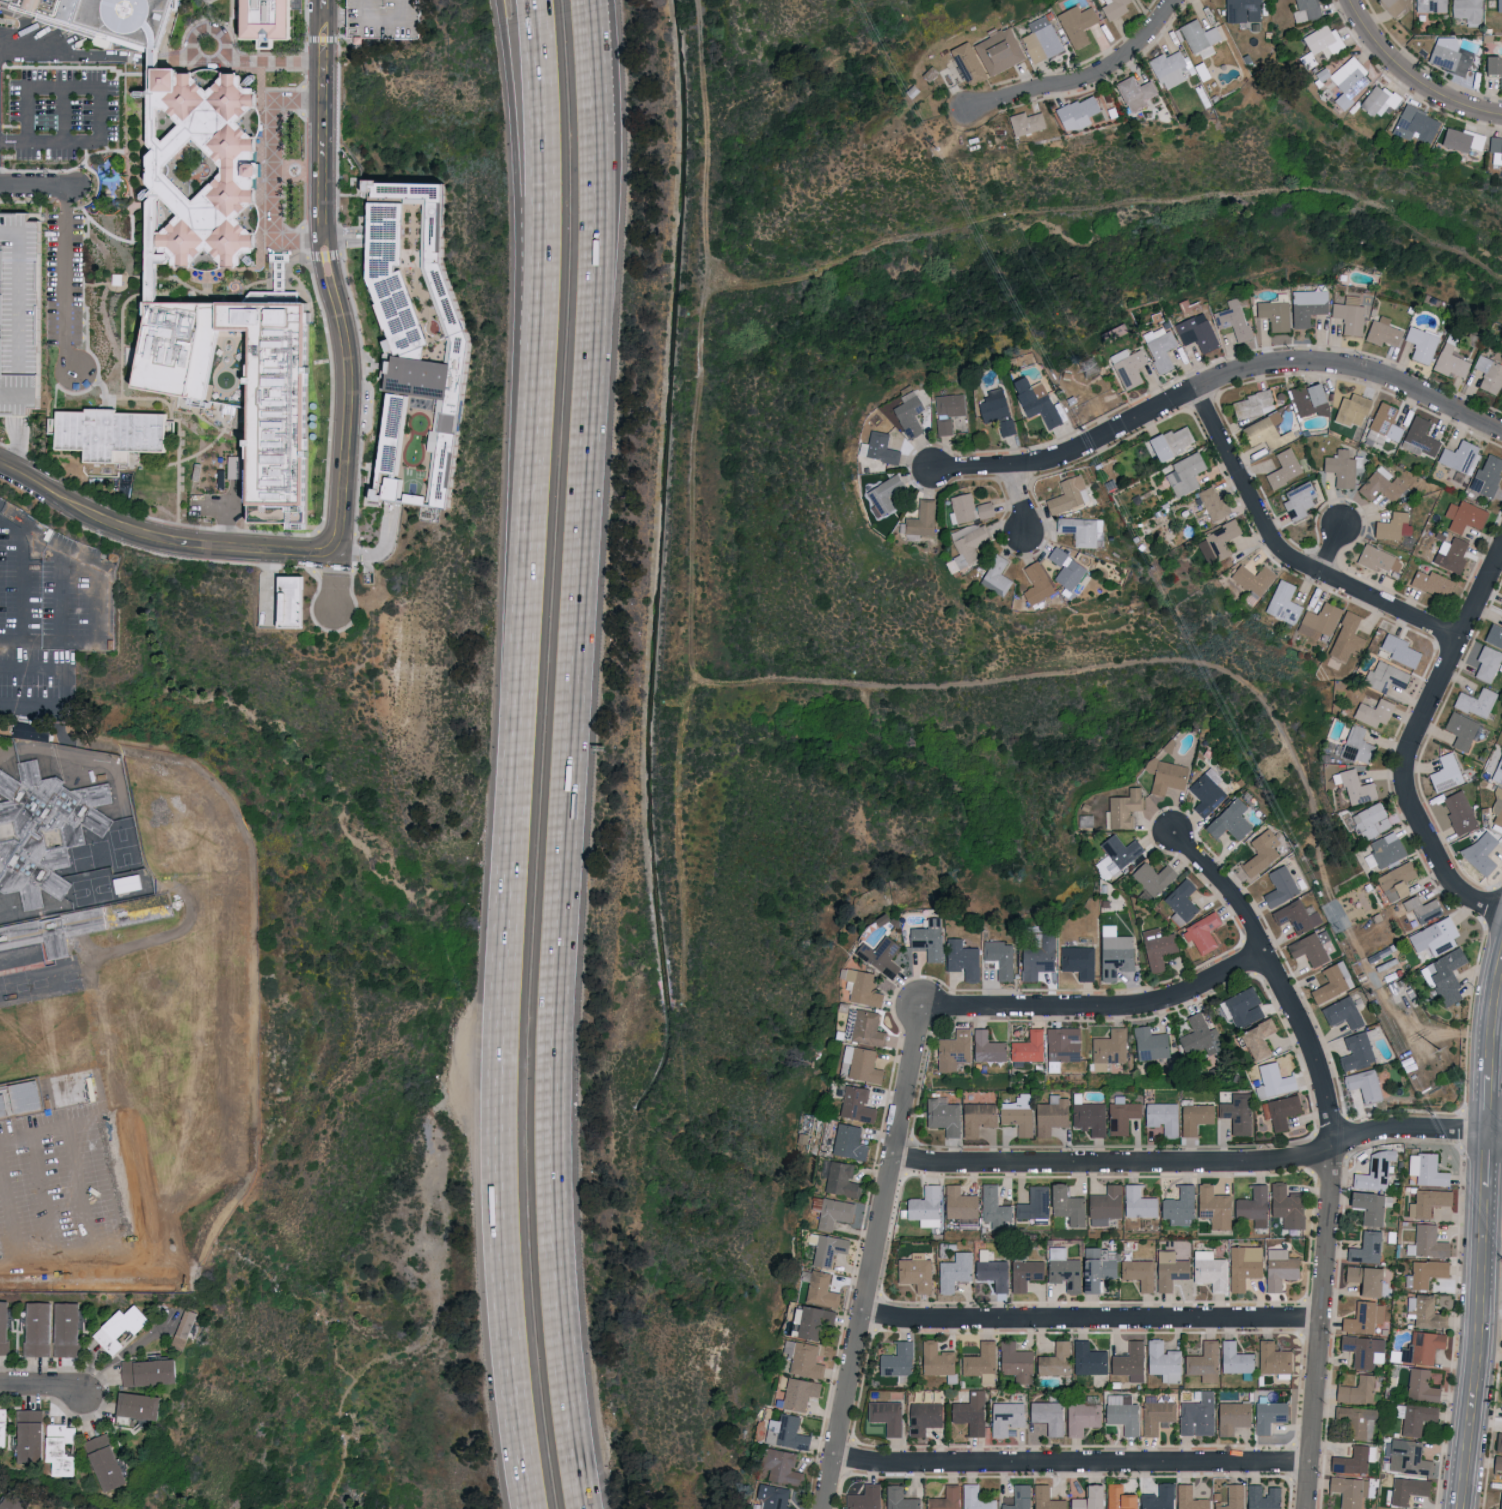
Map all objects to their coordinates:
building: (1394, 5)
building: (1429, 5)
building: (1498, 5)
helipad: (126, 8)
building: (1113, 8)
building: (1241, 10)
building: (1304, 10)
building: (1466, 11)
parking lot: (386, 18)
road: (347, 19)
building: (373, 19)
building: (266, 20)
road: (327, 20)
road: (389, 22)
building: (1076, 24)
building: (1198, 35)
building: (1040, 39)
building: (1321, 39)
parking lot: (54, 43)
building: (1005, 48)
road: (73, 53)
road: (152, 59)
road: (240, 63)
road: (594, 67)
building: (1492, 67)
building: (1168, 68)
road: (1411, 76)
road: (1082, 78)
building: (1348, 81)
road: (101, 86)
building: (1134, 92)
building: (1378, 100)
building: (1075, 113)
road: (65, 114)
building: (1023, 122)
building: (1414, 125)
building: (192, 130)
building: (1460, 139)
road: (321, 140)
road: (13, 142)
building: (1495, 151)
road: (520, 164)
road: (274, 172)
road: (38, 192)
road: (341, 240)
parking lot: (65, 279)
road: (65, 288)
building: (1307, 305)
building: (23, 312)
parking lot: (19, 314)
building: (1274, 314)
building: (1349, 315)
building: (1232, 320)
building: (1196, 332)
building: (1382, 332)
building: (1419, 344)
road: (343, 345)
building: (435, 346)
building: (1158, 348)
building: (1448, 362)
building: (1126, 366)
power tower: (1091, 369)
building: (1488, 374)
road: (1217, 383)
building: (1308, 400)
building: (1250, 405)
building: (1351, 409)
building: (946, 411)
building: (997, 412)
building: (906, 414)
building: (1385, 422)
building: (1264, 432)
building: (111, 434)
building: (1420, 437)
building: (296, 442)
building: (1168, 443)
road: (20, 444)
building: (879, 448)
building: (1458, 456)
building: (1184, 473)
building: (1485, 480)
building: (1381, 484)
road: (342, 488)
road: (52, 490)
building: (1067, 495)
building: (1297, 501)
road: (1021, 502)
building: (1211, 502)
building: (881, 503)
road: (214, 509)
building: (965, 509)
building: (1463, 516)
road: (225, 517)
building: (921, 519)
building: (1391, 526)
building: (1080, 530)
road: (29, 534)
road: (336, 538)
road: (388, 541)
building: (1216, 542)
building: (964, 544)
road: (217, 547)
road: (1332, 551)
road: (346, 553)
building: (1450, 555)
road: (1286, 556)
building: (1376, 559)
road: (335, 562)
building: (1065, 569)
building: (998, 577)
building: (1250, 579)
building: (1035, 583)
building: (1431, 583)
road: (336, 591)
building: (298, 599)
road: (27, 601)
building: (1282, 603)
building: (1501, 607)
building: (1318, 622)
building: (1496, 637)
building: (1345, 638)
road: (91, 643)
building: (1398, 650)
building: (1486, 663)
road: (37, 666)
building: (1383, 677)
building: (1474, 702)
road: (35, 705)
building: (1372, 712)
building: (40, 729)
building: (1459, 730)
road: (1410, 738)
building: (1355, 746)
road: (515, 754)
building: (1496, 769)
building: (1444, 773)
building: (1164, 775)
building: (1353, 787)
building: (1206, 792)
building: (1124, 807)
building: (1496, 809)
building: (1458, 812)
building: (1228, 820)
building: (1369, 821)
road: (573, 822)
building: (44, 829)
building: (1383, 850)
building: (1259, 852)
building: (1116, 854)
building: (1480, 854)
building: (1152, 876)
building: (1394, 880)
building: (1279, 885)
building: (1420, 908)
building: (1296, 915)
building: (26, 929)
building: (1200, 931)
building: (1433, 936)
building: (926, 938)
building: (1156, 947)
building: (1307, 948)
building: (1113, 952)
building: (879, 955)
building: (1038, 956)
building: (1000, 957)
building: (962, 958)
building: (1078, 961)
building: (1443, 976)
building: (1328, 983)
building: (861, 987)
road: (1098, 1006)
building: (1241, 1006)
building: (1341, 1012)
building: (862, 1027)
building: (1196, 1035)
building: (1254, 1037)
building: (1148, 1043)
building: (1027, 1046)
building: (1060, 1046)
building: (986, 1047)
building: (1108, 1048)
building: (952, 1049)
building: (1355, 1051)
power tower: (1443, 1051)
building: (861, 1063)
building: (1271, 1080)
road: (909, 1082)
road: (468, 1084)
building: (1363, 1084)
building: (27, 1096)
building: (854, 1103)
building: (4, 1106)
building: (1280, 1111)
building: (1236, 1112)
building: (1120, 1114)
building: (941, 1115)
building: (1048, 1115)
building: (1086, 1115)
building: (1161, 1116)
building: (974, 1117)
building: (1193, 1117)
building: (1015, 1118)
road: (430, 1130)
building: (847, 1142)
road: (1330, 1147)
road: (1201, 1163)
building: (1426, 1169)
building: (1375, 1171)
building: (839, 1179)
road: (82, 1195)
road: (121, 1195)
road: (426, 1196)
road: (45, 1198)
building: (958, 1202)
building: (1137, 1202)
building: (1427, 1202)
building: (1033, 1203)
building: (1065, 1204)
building: (1178, 1204)
building: (1104, 1205)
building: (1285, 1205)
building: (1368, 1205)
building: (924, 1206)
building: (1212, 1206)
building: (1252, 1206)
building: (993, 1207)
road: (10, 1209)
building: (832, 1213)
road: (1481, 1235)
building: (1425, 1242)
road: (1491, 1244)
building: (1364, 1247)
building: (828, 1249)
building: (1241, 1265)
road: (10, 1266)
building: (1277, 1268)
building: (1167, 1269)
building: (989, 1270)
building: (1208, 1270)
building: (913, 1271)
building: (952, 1271)
building: (1062, 1273)
building: (1137, 1273)
building: (1424, 1273)
building: (1023, 1274)
building: (1362, 1279)
building: (816, 1288)
building: (1424, 1312)
building: (1362, 1318)
building: (809, 1320)
road: (1090, 1323)
building: (5, 1327)
building: (122, 1328)
building: (39, 1329)
building: (68, 1329)
building: (186, 1329)
road: (858, 1333)
building: (1421, 1347)
building: (1363, 1350)
building: (933, 1358)
building: (1086, 1358)
building: (1233, 1358)
building: (1271, 1358)
building: (800, 1359)
building: (895, 1359)
building: (1053, 1360)
building: (1160, 1360)
building: (1013, 1361)
building: (1127, 1361)
building: (979, 1362)
building: (1202, 1362)
road: (371, 1367)
building: (152, 1372)
building: (1419, 1385)
road: (43, 1388)
building: (1355, 1390)
building: (1500, 1390)
building: (795, 1392)
building: (143, 1405)
building: (969, 1412)
building: (1121, 1412)
building: (1197, 1414)
building: (1267, 1414)
building: (1045, 1415)
building: (1155, 1415)
building: (886, 1416)
building: (1231, 1416)
building: (921, 1417)
building: (1004, 1417)
building: (1080, 1417)
building: (1414, 1418)
building: (1355, 1420)
building: (5, 1431)
building: (783, 1432)
building: (35, 1435)
building: (1498, 1441)
building: (66, 1448)
building: (1407, 1457)
building: (1352, 1459)
building: (111, 1461)
road: (857, 1462)
building: (1497, 1462)
road: (1095, 1465)
building: (777, 1467)
building: (1406, 1489)
building: (1347, 1491)
building: (768, 1497)
building: (1017, 1497)
building: (1117, 1497)
building: (1157, 1497)
building: (1231, 1497)
building: (1260, 1497)
building: (864, 1498)
building: (899, 1498)
building: (973, 1498)
building: (1044, 1498)
building: (1085, 1498)
building: (1187, 1498)
building: (942, 1499)
building: (1500, 1501)
building: (14, 1502)
building: (1488, 1508)

